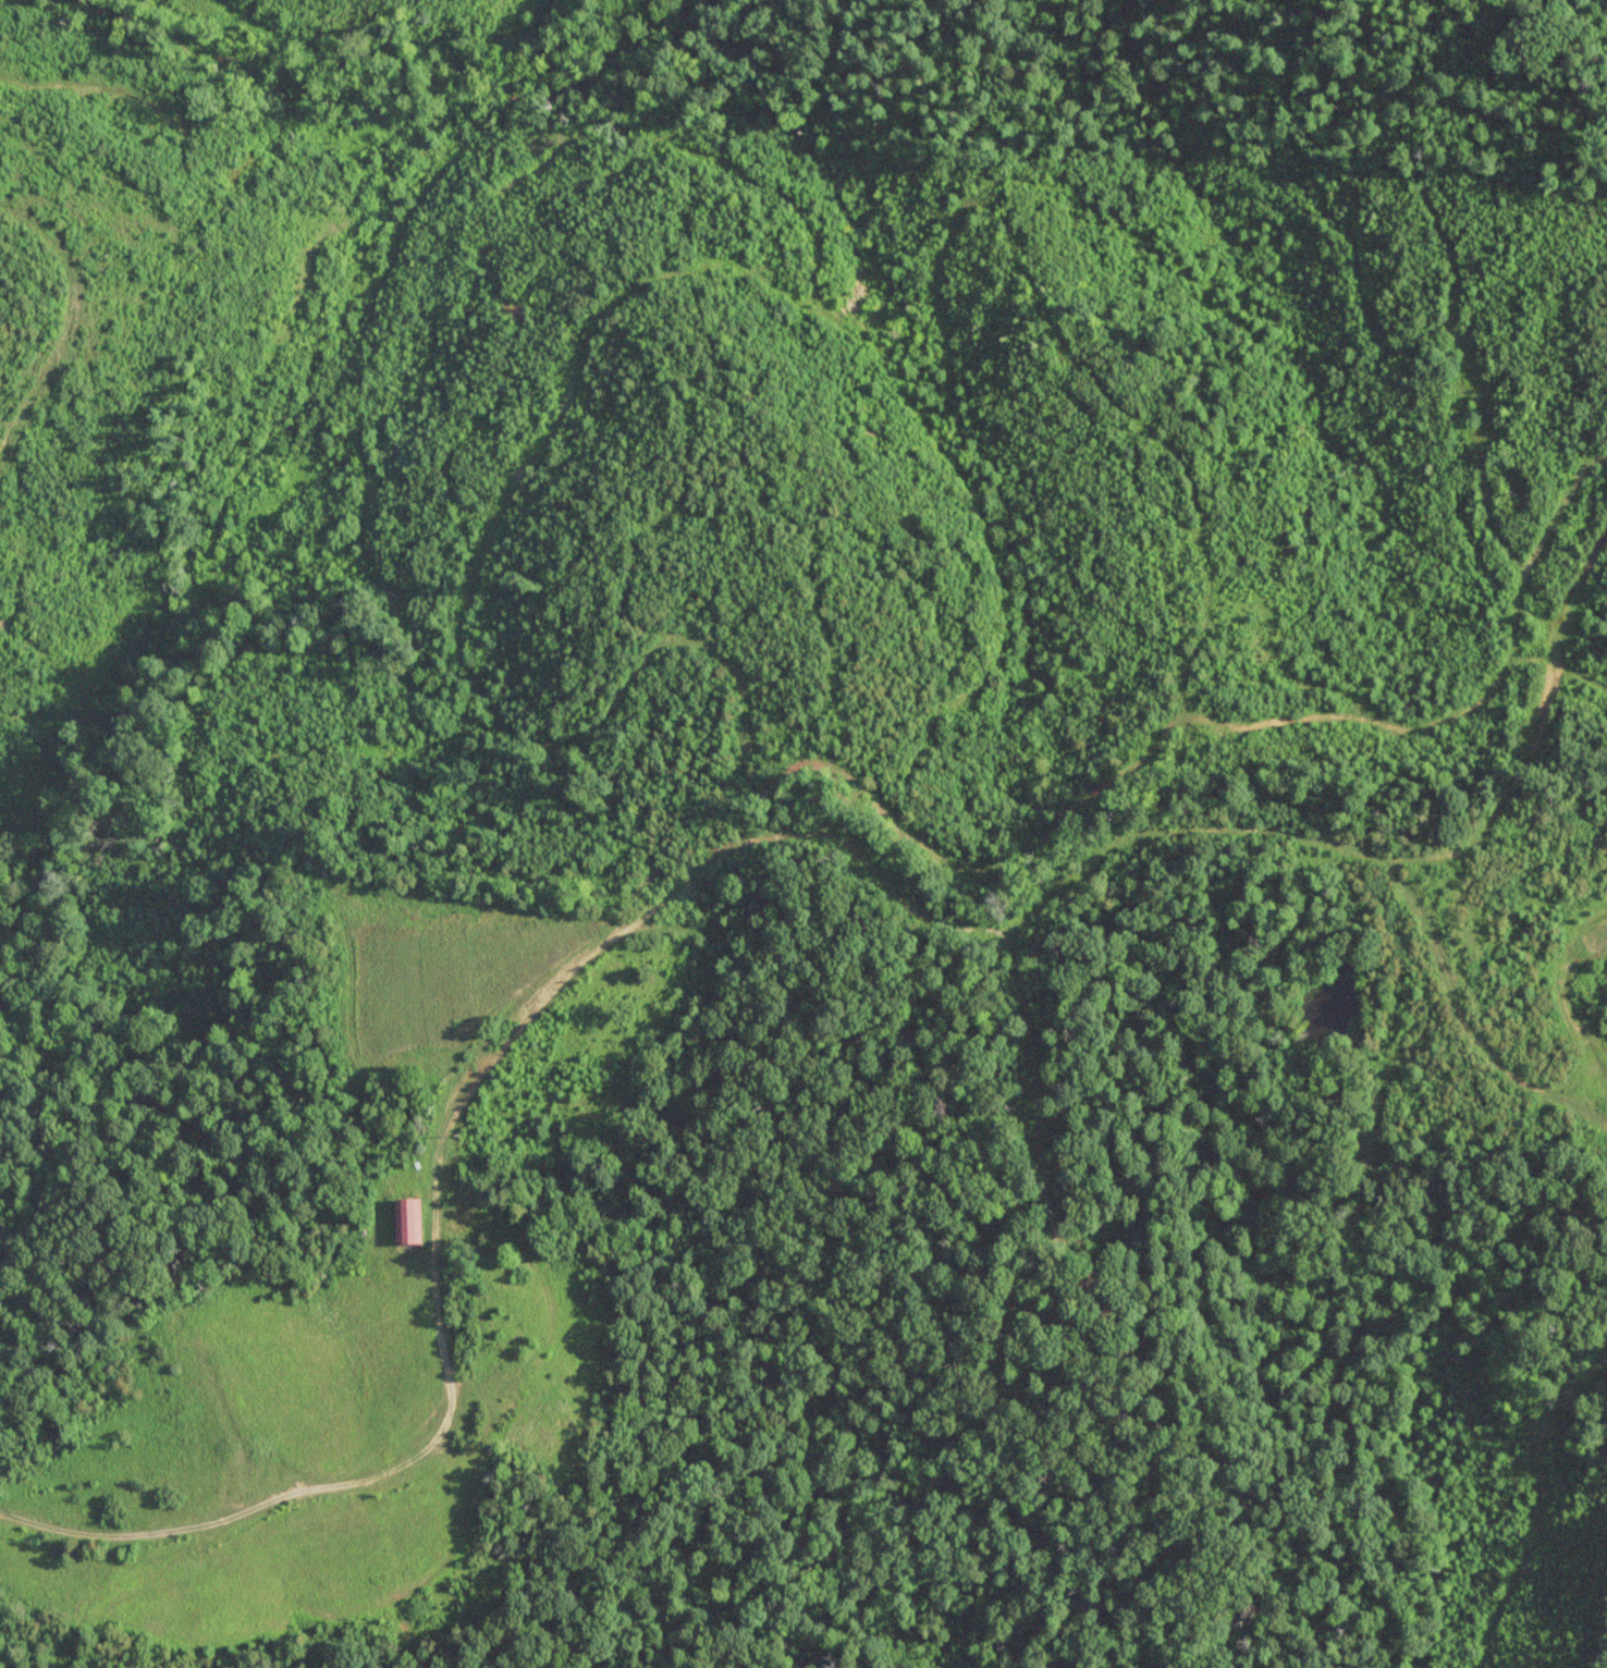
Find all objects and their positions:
building: (405, 1219)

